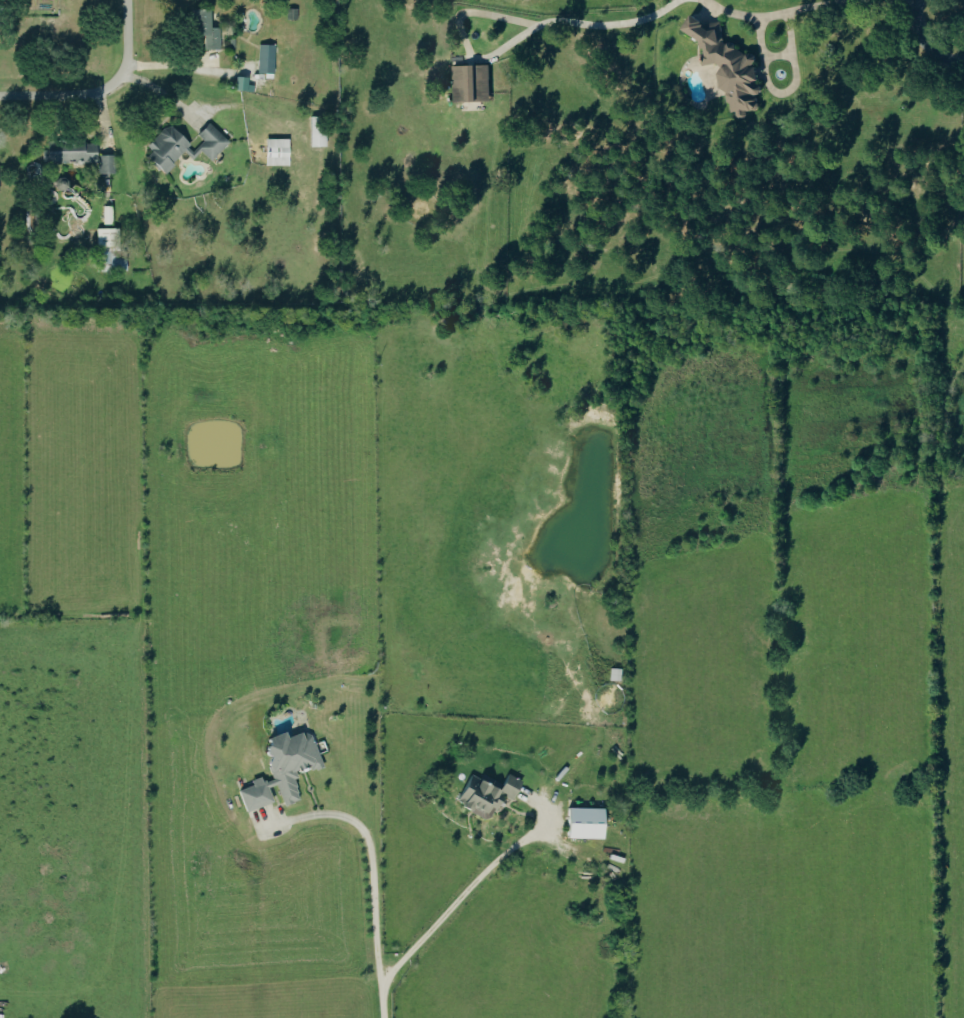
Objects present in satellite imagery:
road: (814, 6)
road: (738, 13)
road: (581, 23)
building: (203, 28)
road: (925, 43)
building: (265, 60)
building: (725, 66)
building: (470, 83)
building: (241, 84)
road: (102, 90)
building: (316, 137)
building: (182, 146)
building: (69, 152)
building: (275, 152)
building: (104, 164)
building: (106, 215)
building: (614, 674)
building: (280, 768)
building: (483, 794)
building: (582, 822)
road: (373, 885)
road: (456, 901)

